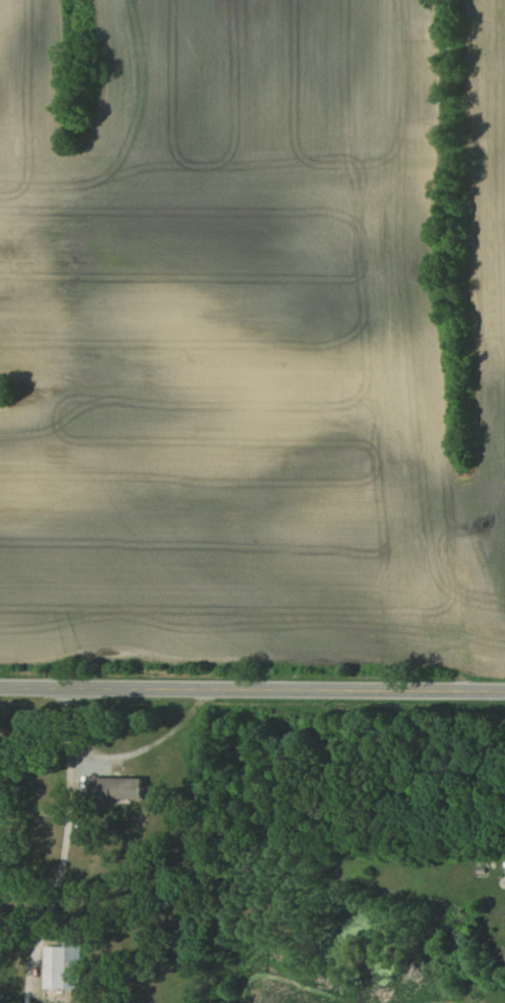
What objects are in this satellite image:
road: (252, 686)
building: (123, 788)
building: (53, 967)

